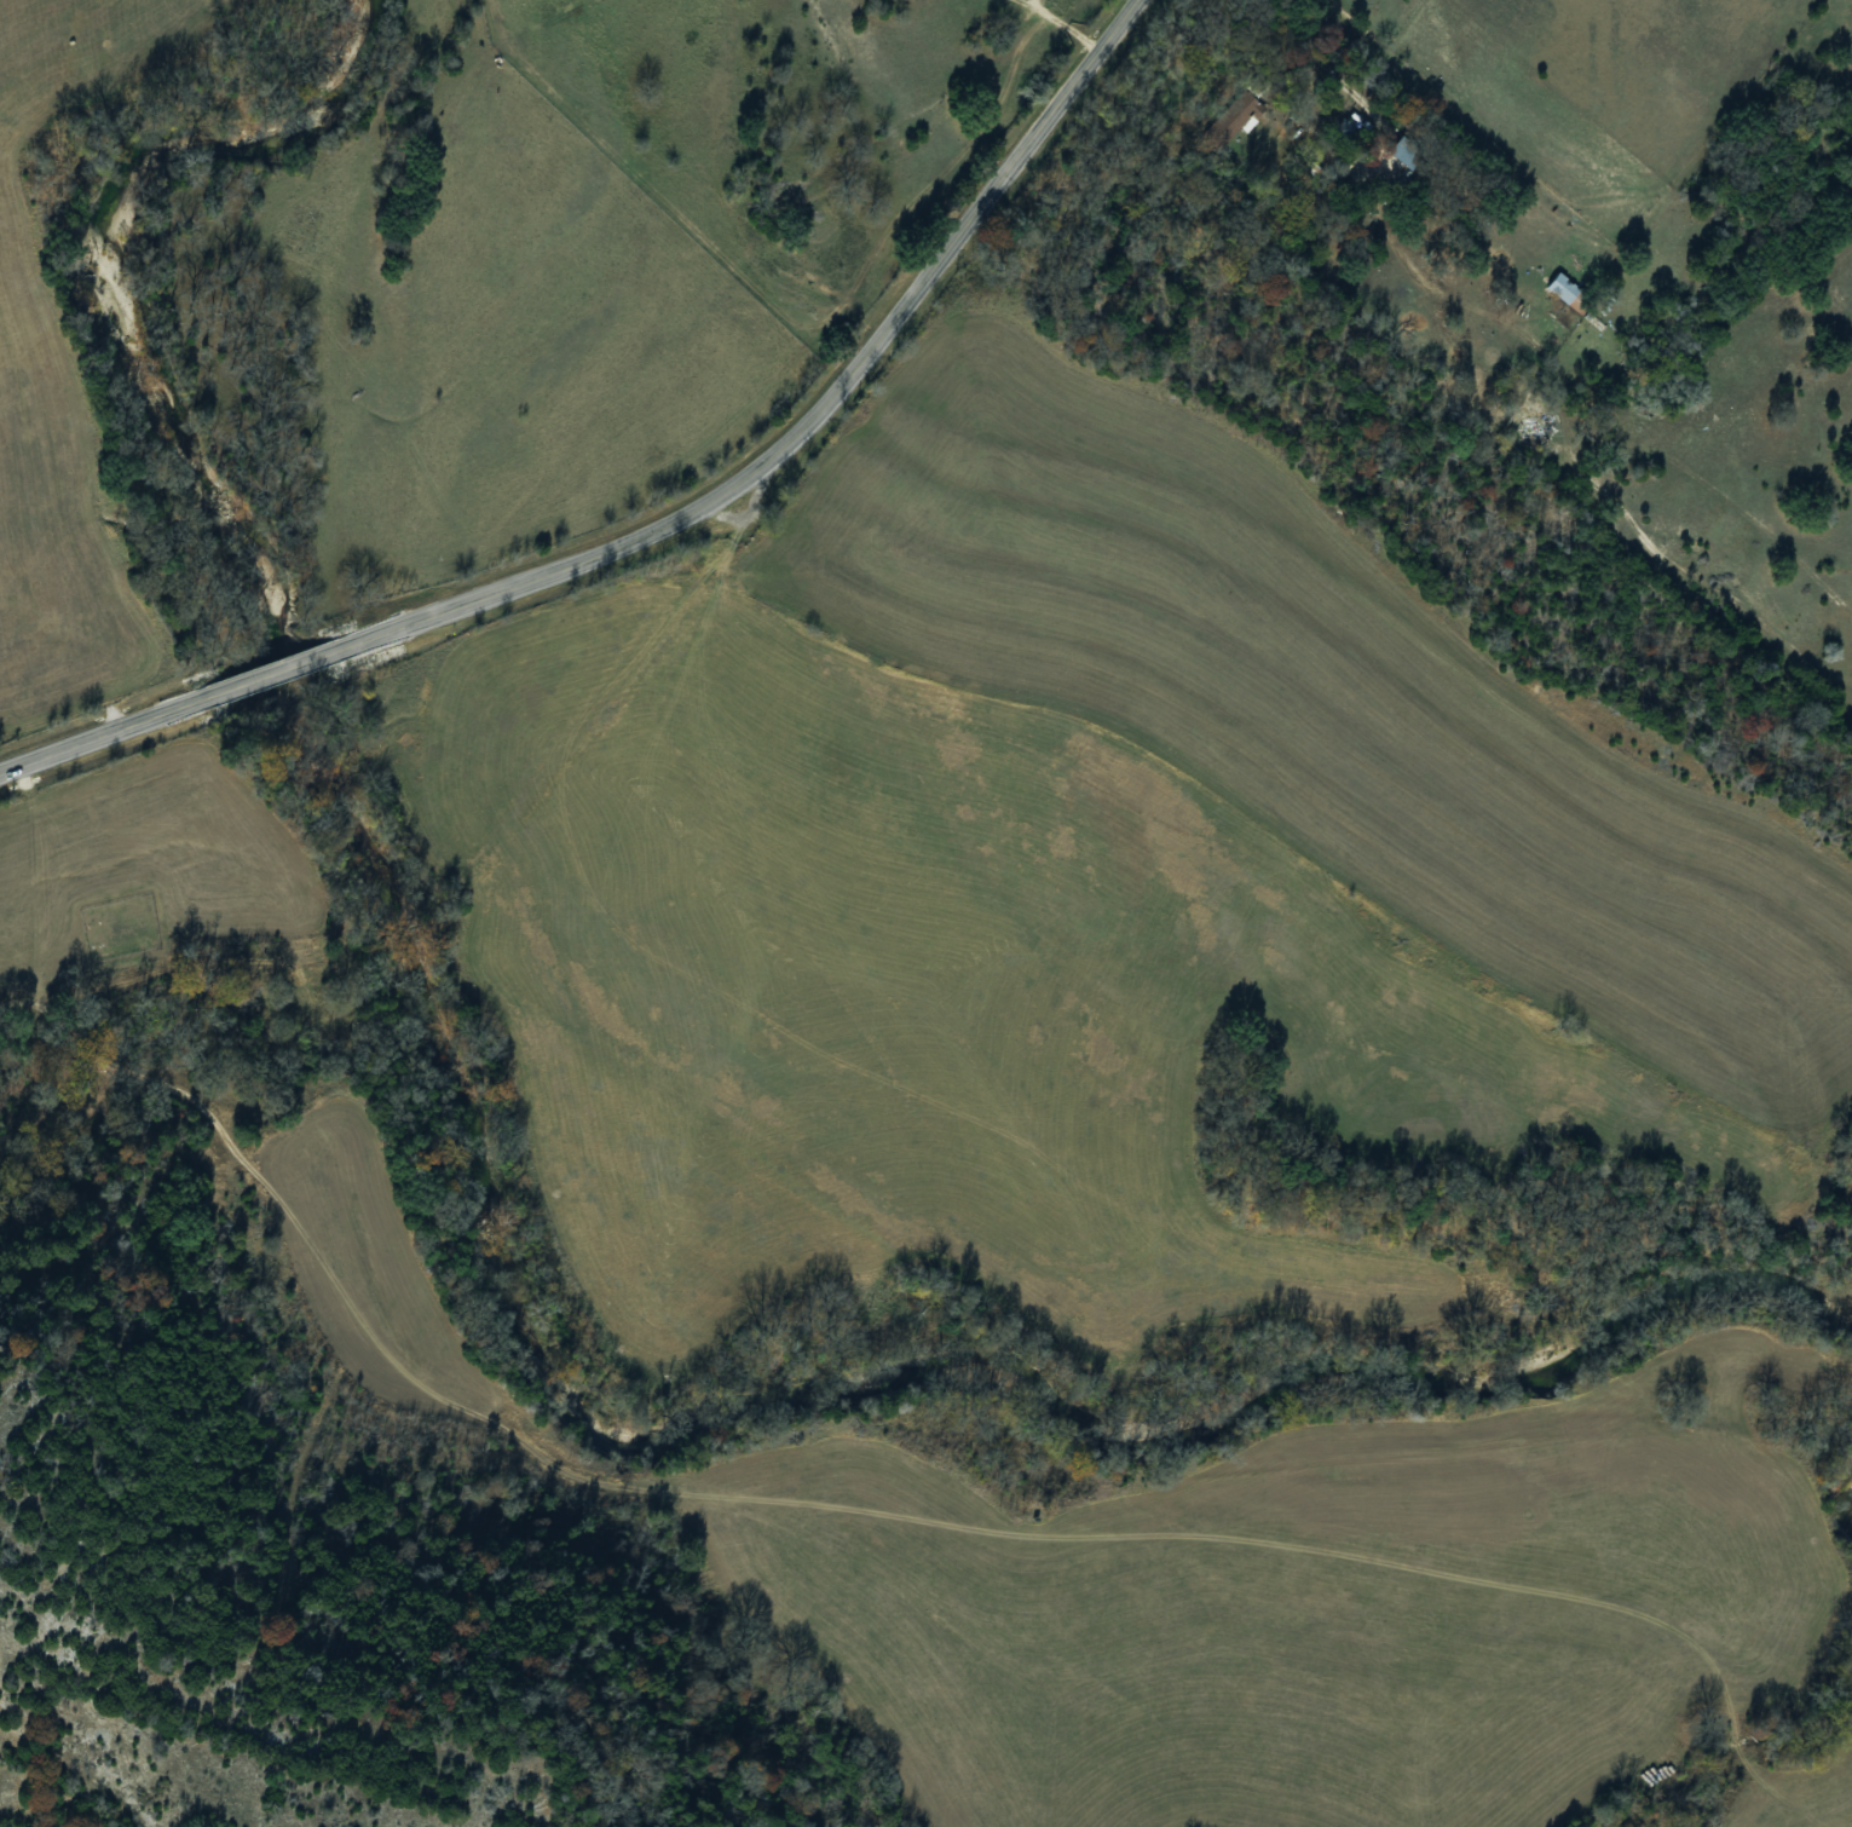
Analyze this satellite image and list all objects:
building: (1236, 119)
building: (1407, 154)
building: (1569, 293)
road: (670, 526)

